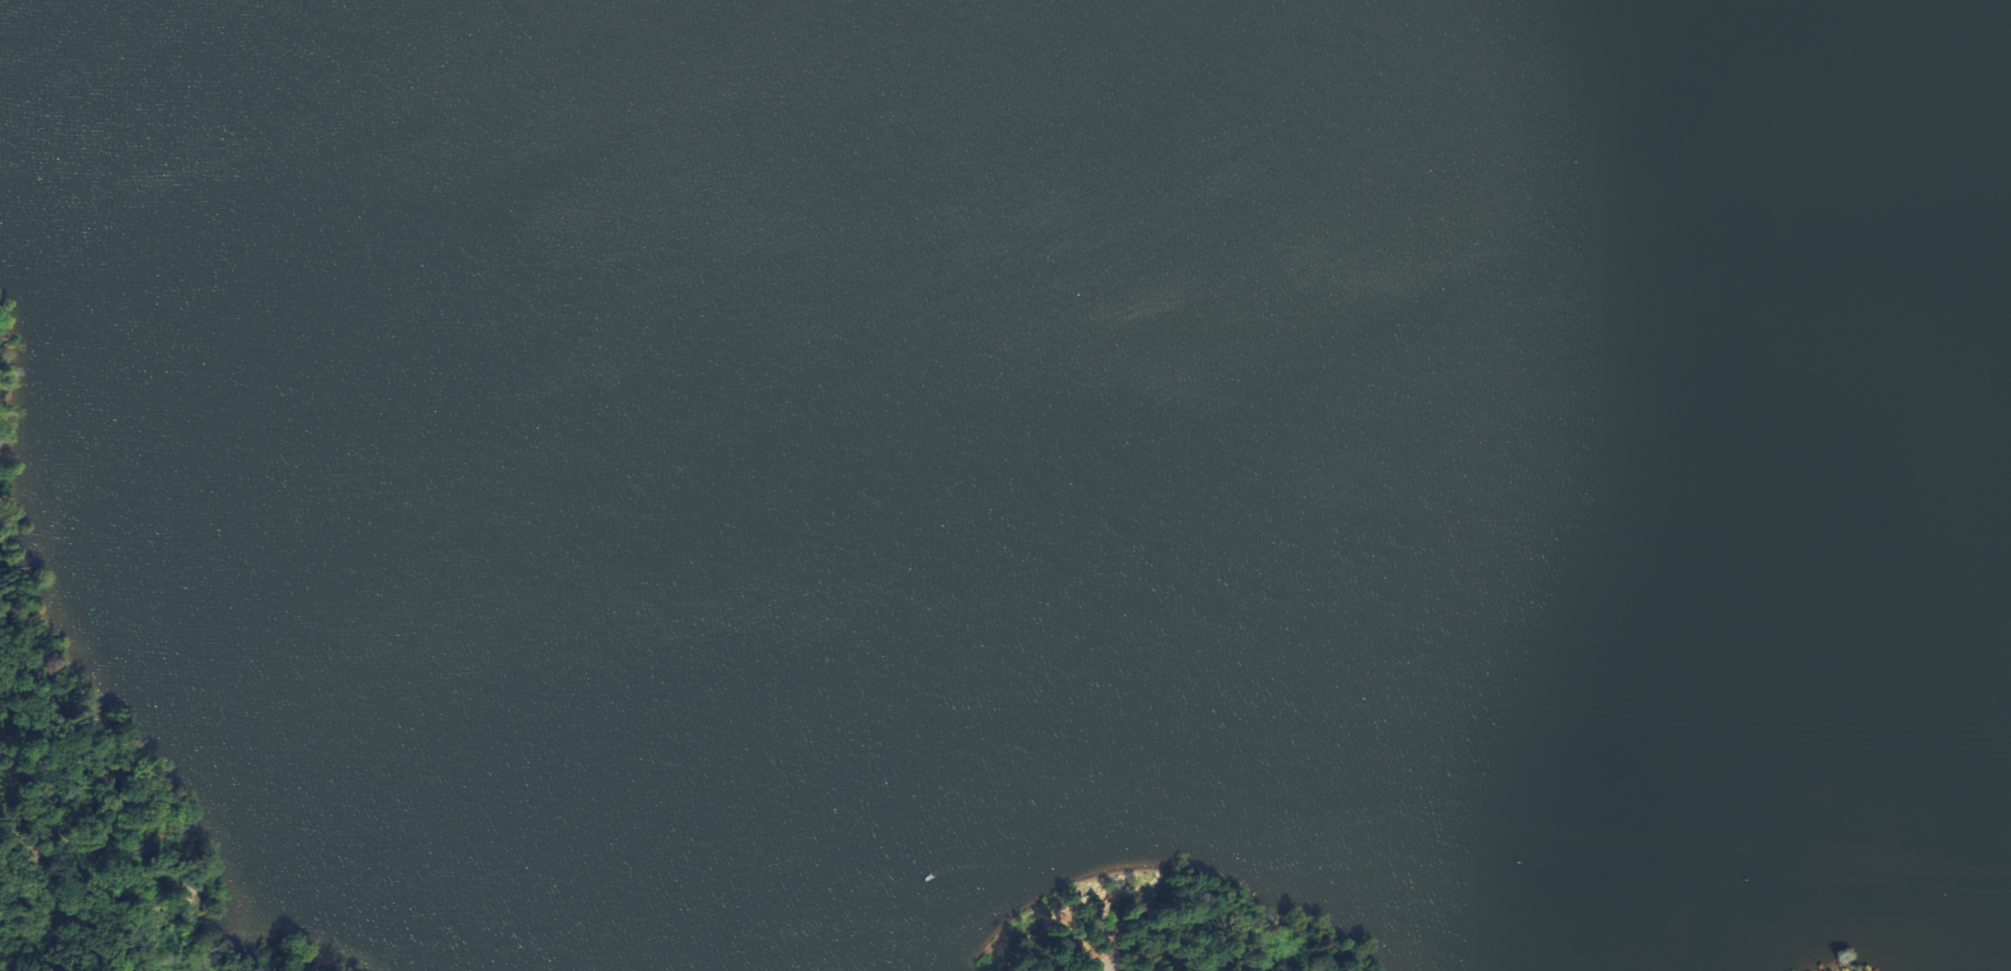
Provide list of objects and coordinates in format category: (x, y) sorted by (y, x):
river: (905, 865)

